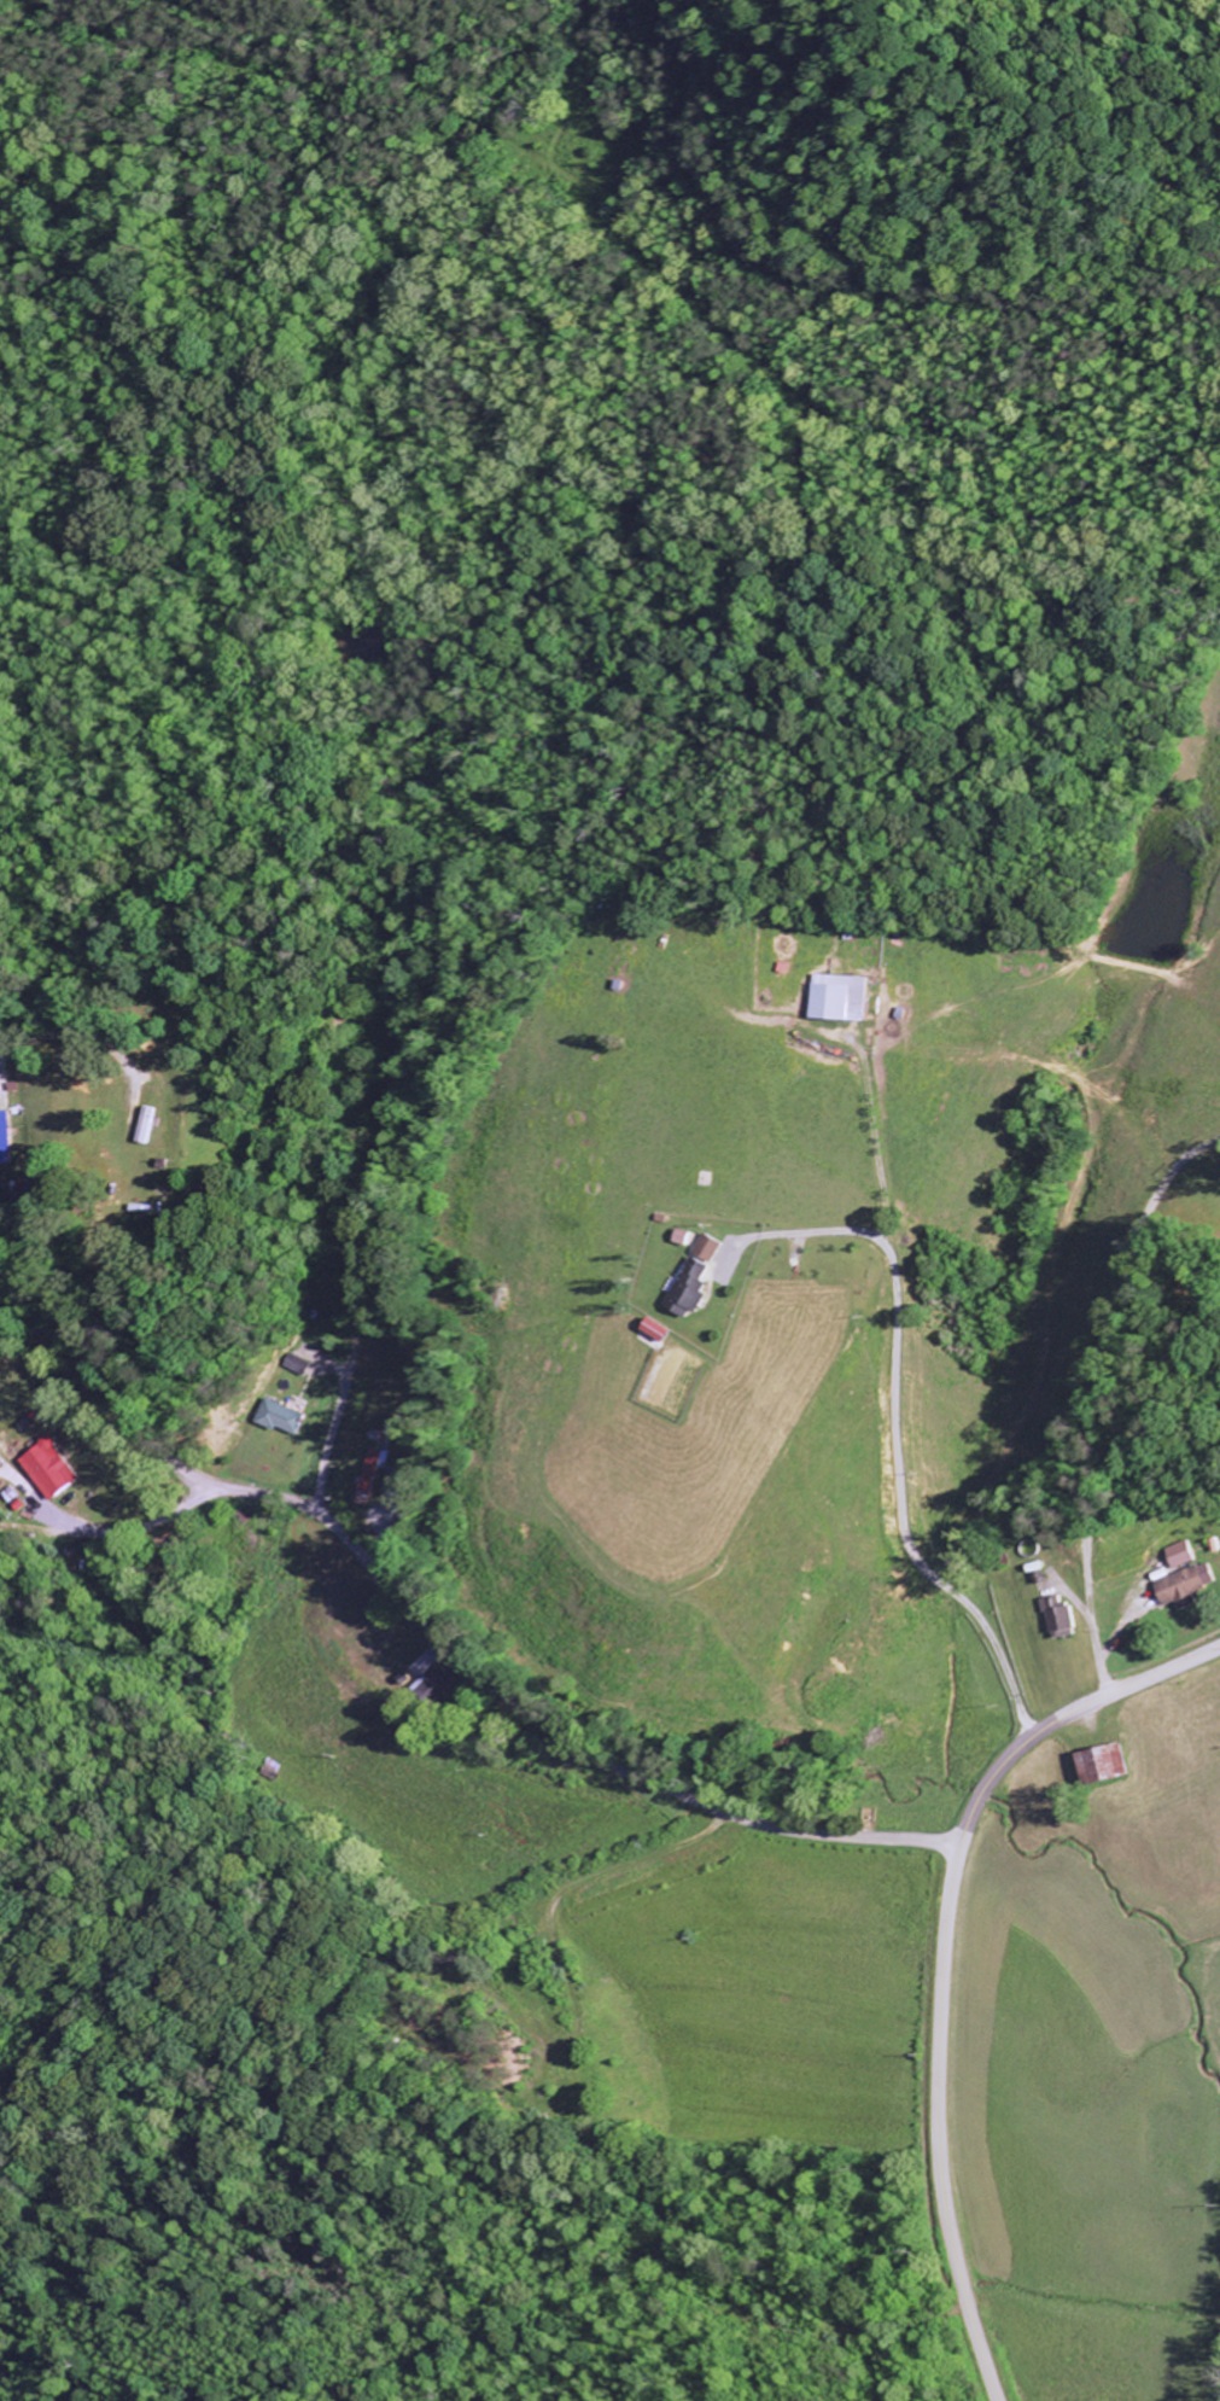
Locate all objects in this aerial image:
building: (846, 998)
building: (7, 1138)
building: (687, 1237)
building: (713, 1247)
building: (695, 1287)
building: (664, 1328)
building: (302, 1364)
building: (286, 1416)
building: (53, 1468)
building: (375, 1474)
building: (1185, 1554)
building: (1191, 1585)
building: (1068, 1616)
road: (444, 1648)
building: (445, 1684)
building: (1111, 1764)
road: (944, 1957)

